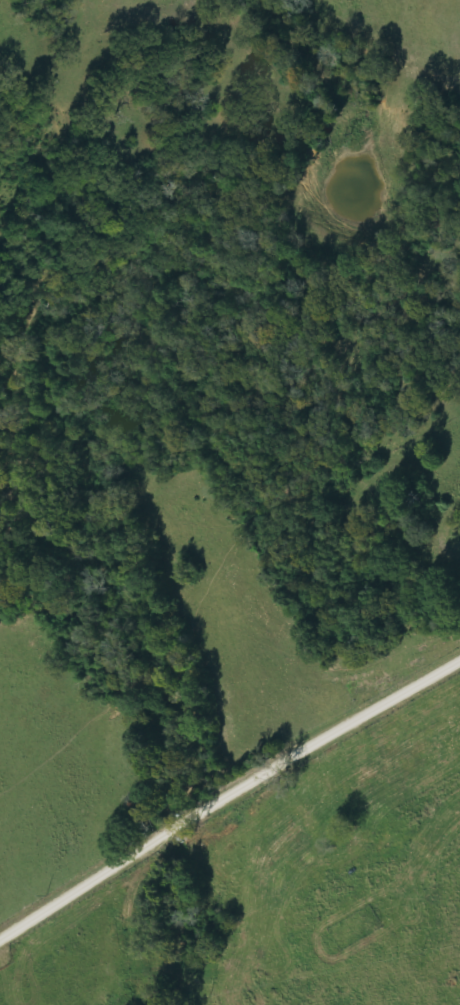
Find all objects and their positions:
road: (229, 794)

